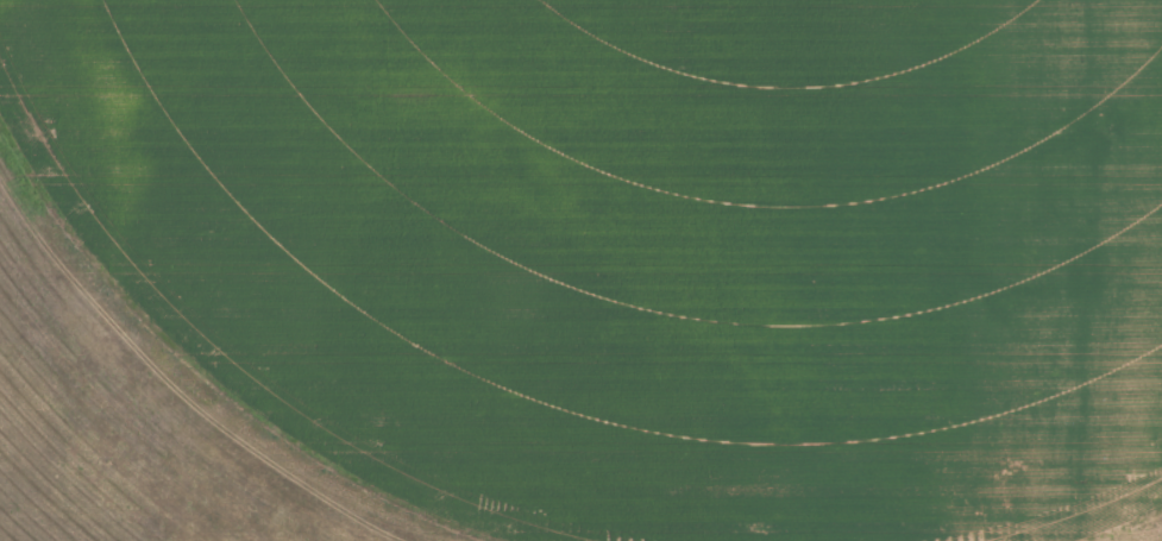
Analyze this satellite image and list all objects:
crop: (580, 270)

